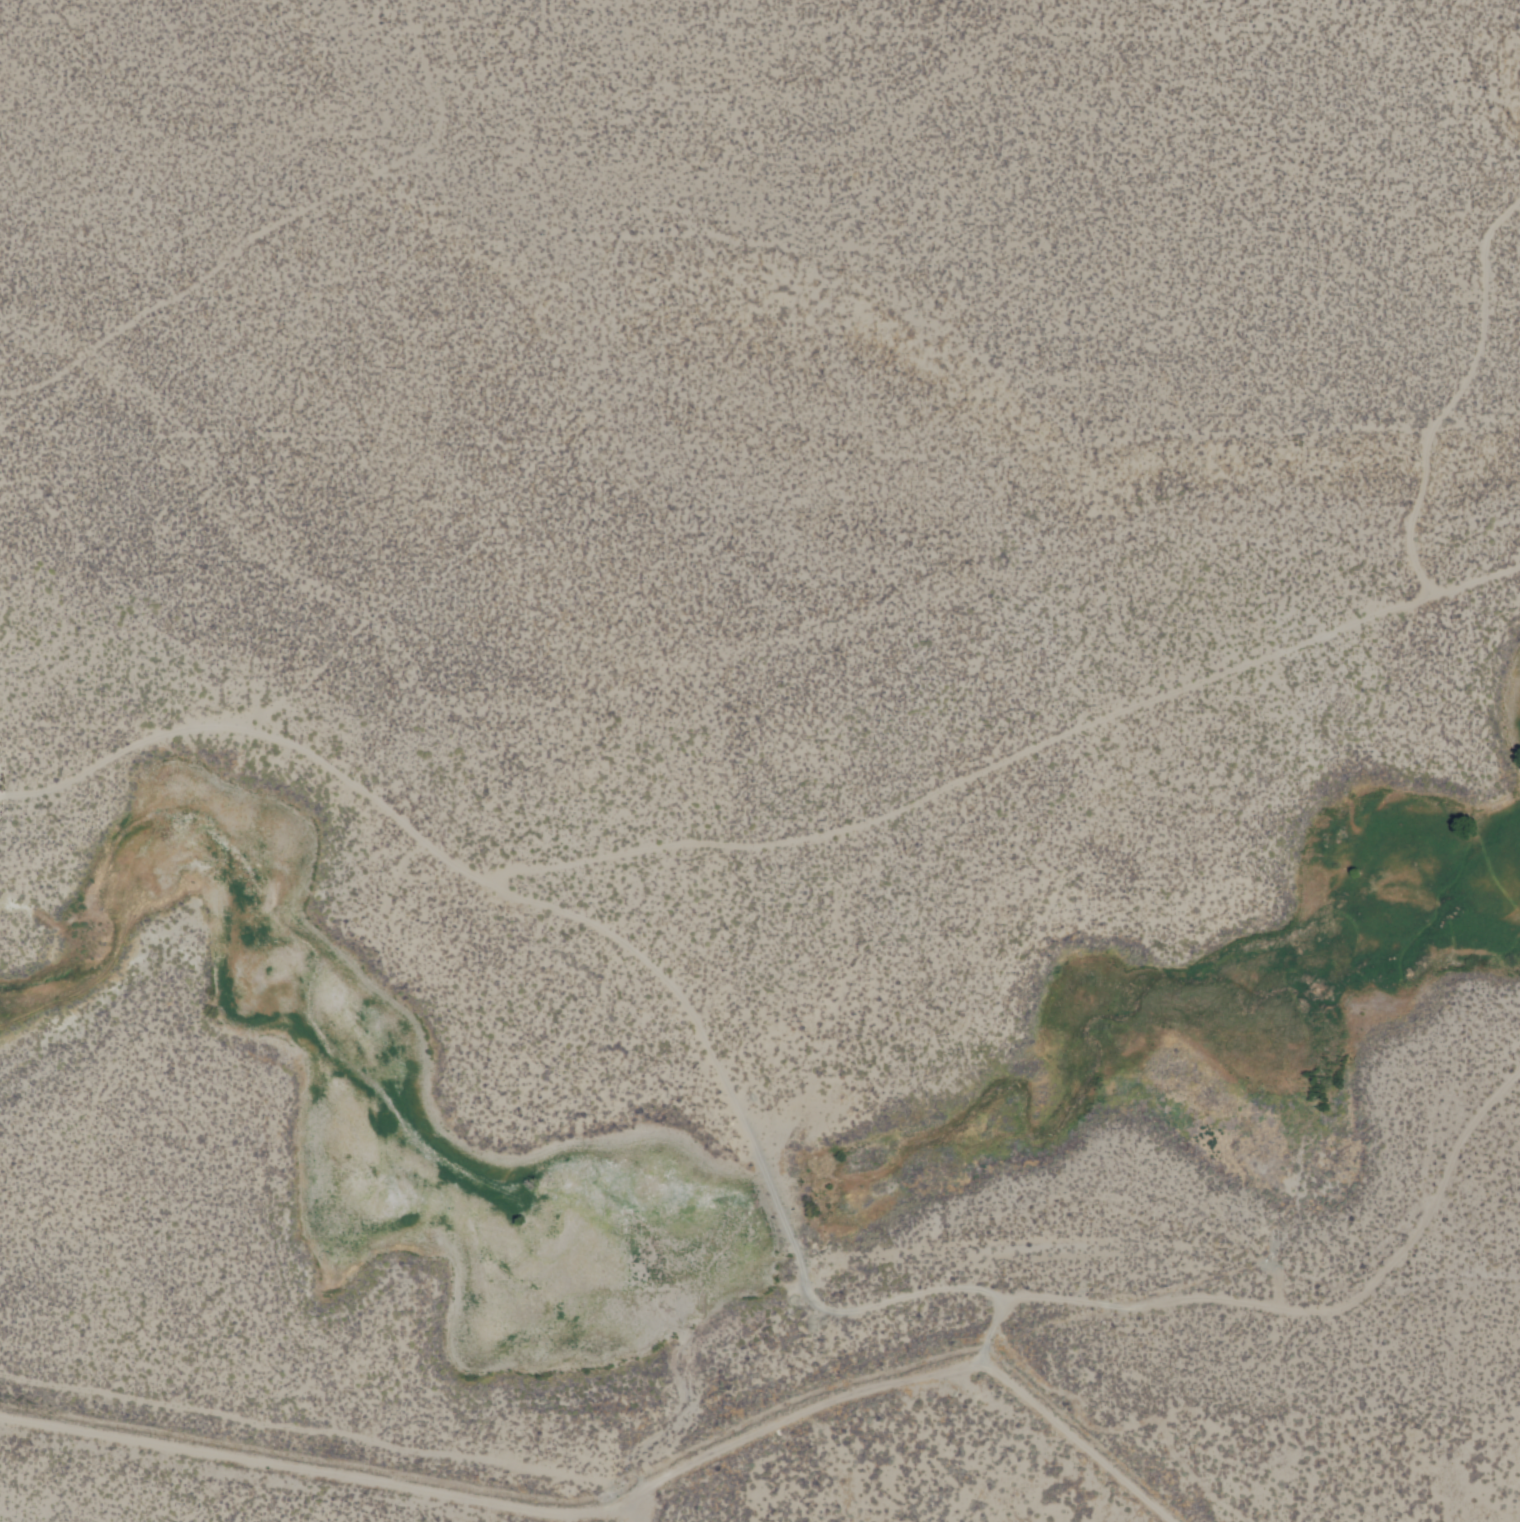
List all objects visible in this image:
road: (1461, 397)
road: (1283, 1309)
road: (614, 1508)

